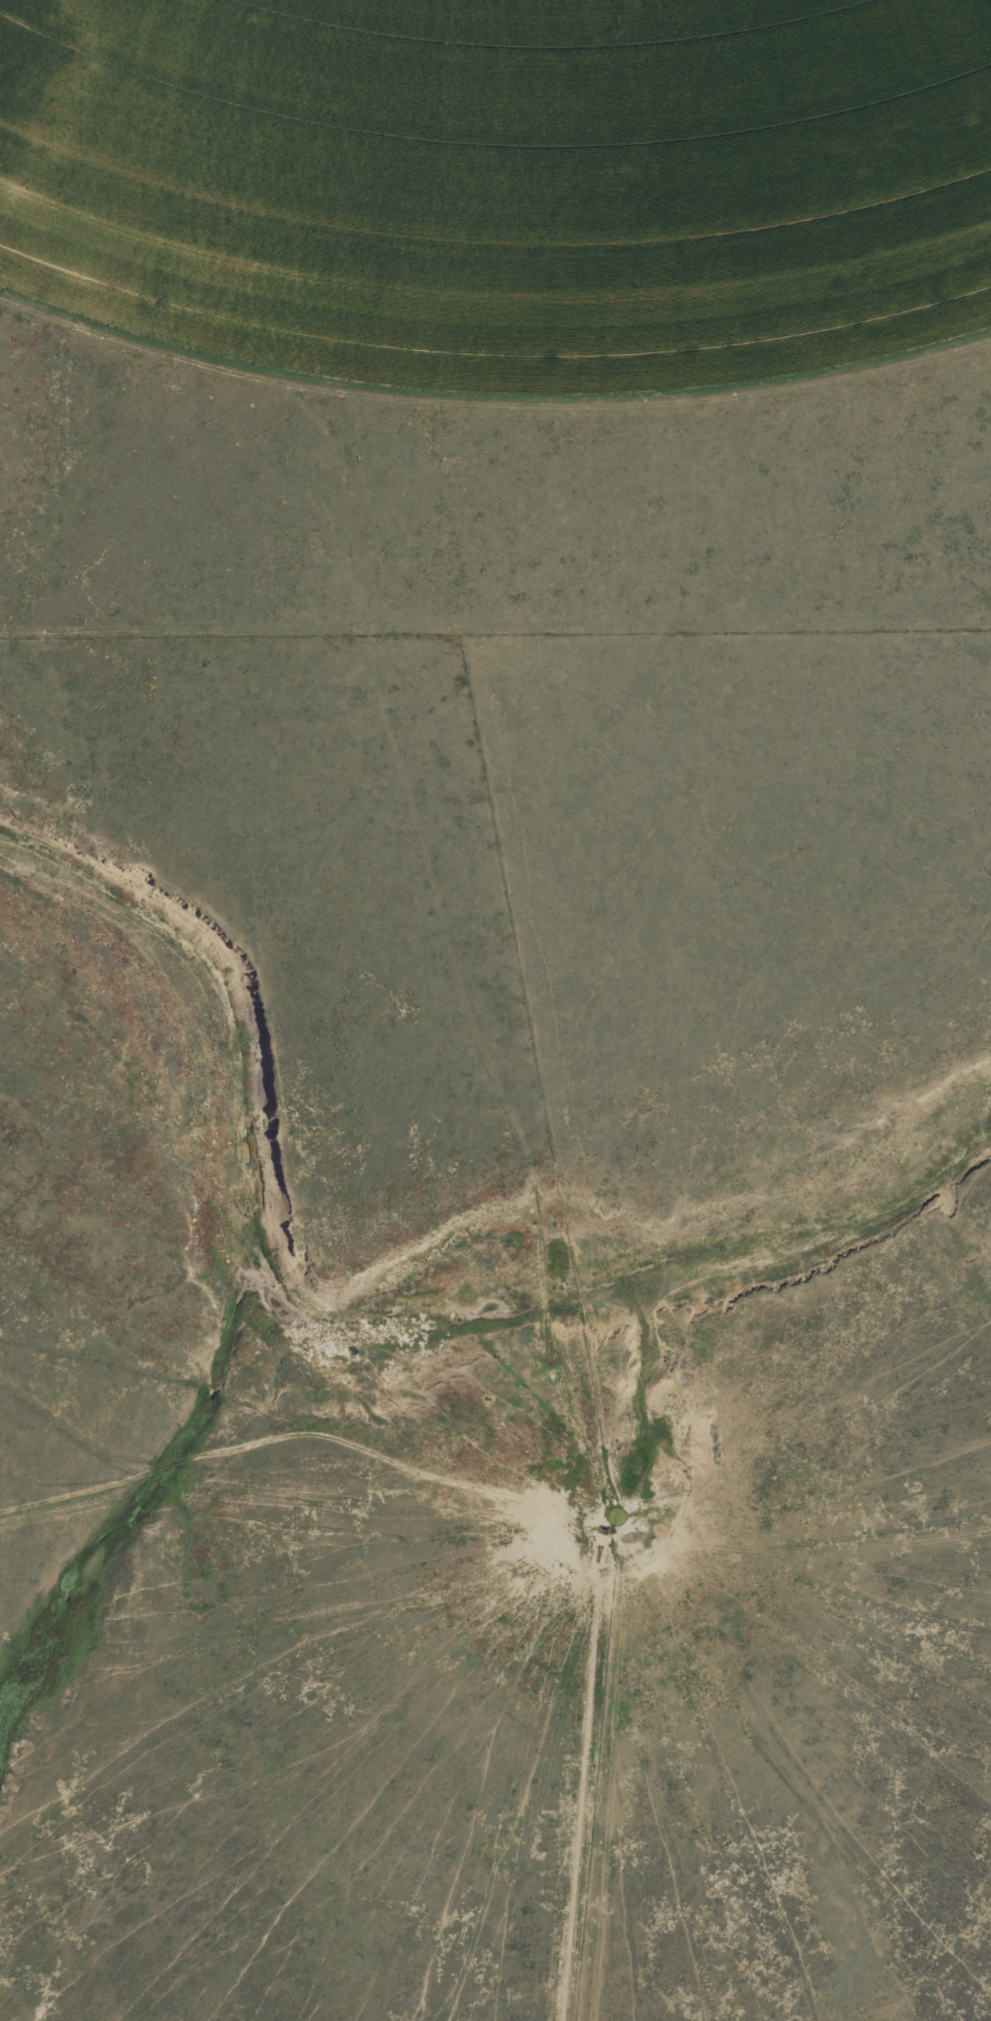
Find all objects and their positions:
crop: (515, 176)

